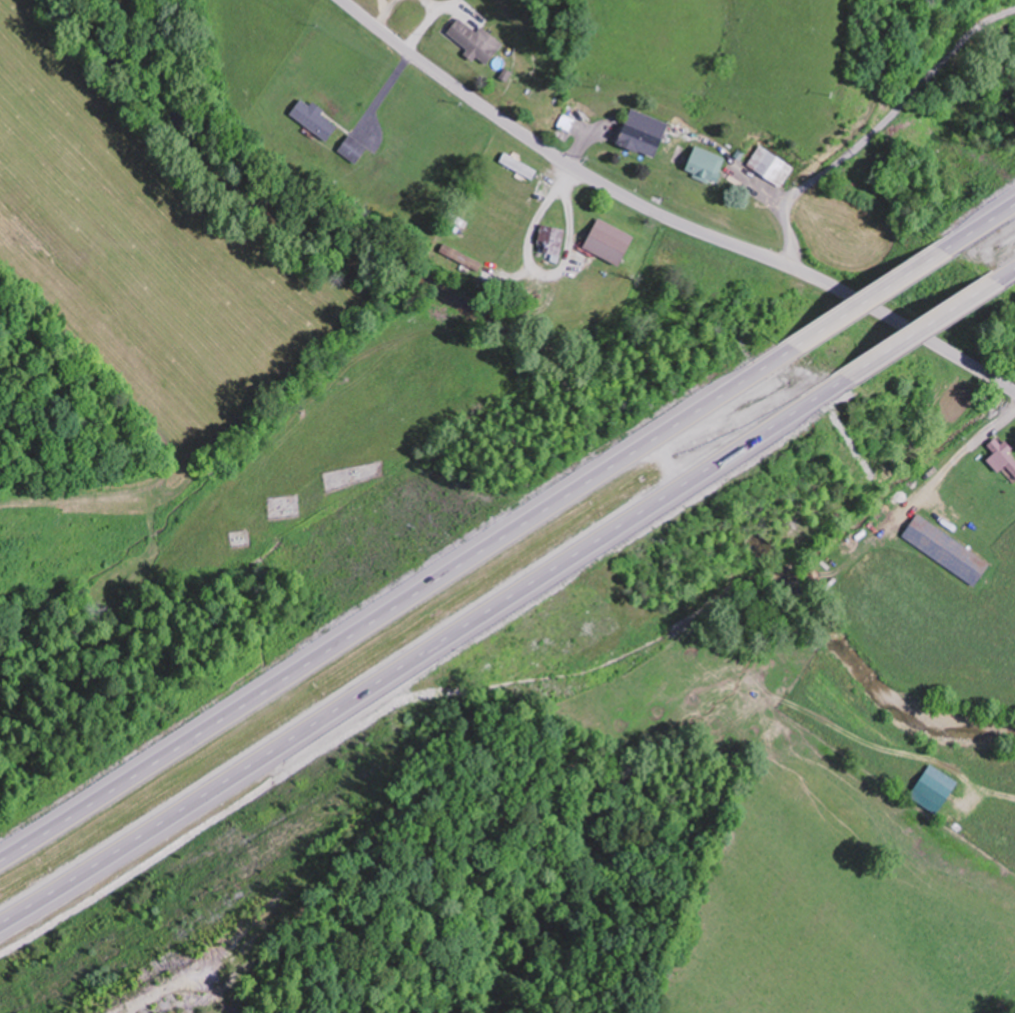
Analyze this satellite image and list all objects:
building: (477, 41)
building: (315, 118)
road: (877, 128)
building: (646, 133)
building: (354, 148)
building: (709, 162)
building: (520, 165)
road: (667, 216)
road: (984, 222)
building: (553, 237)
building: (611, 241)
building: (457, 255)
road: (1011, 270)
road: (876, 291)
road: (925, 326)
road: (491, 331)
building: (1002, 455)
building: (947, 550)
road: (400, 599)
road: (424, 659)

